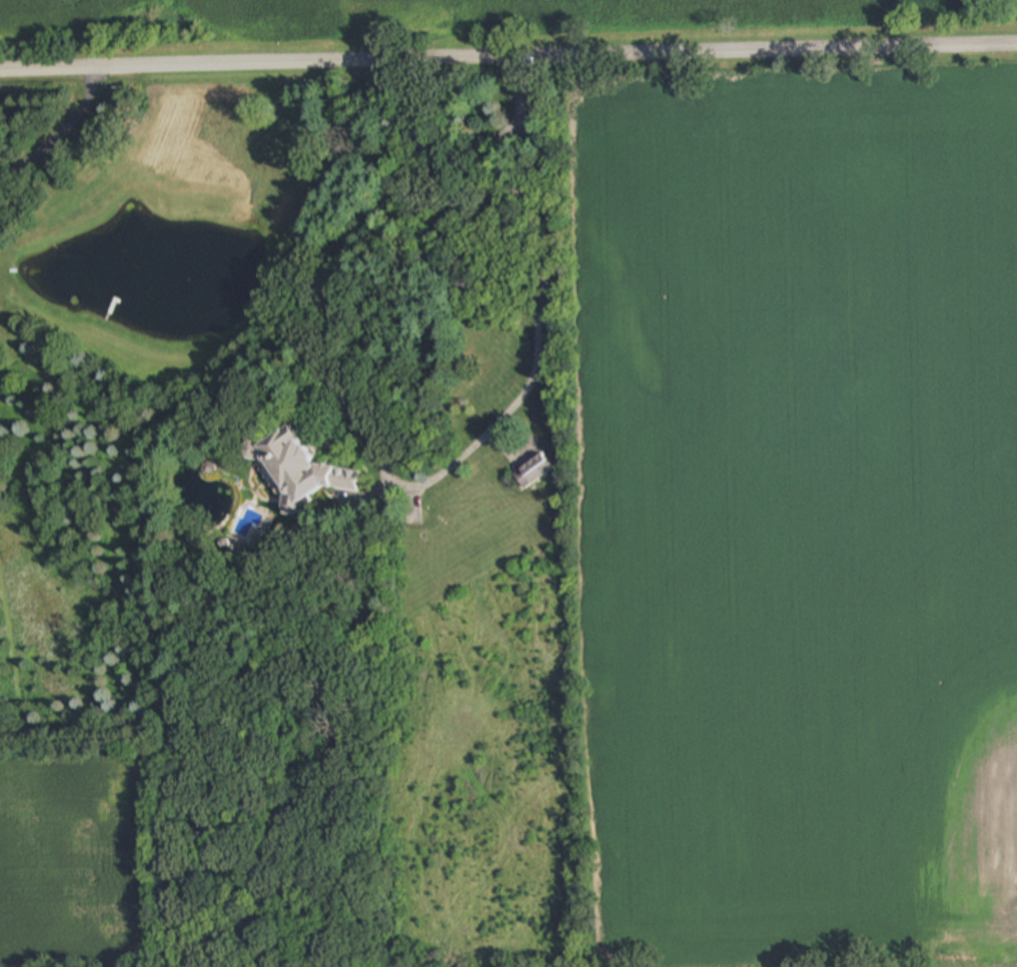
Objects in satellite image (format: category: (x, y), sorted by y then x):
road: (508, 58)
road: (62, 135)
road: (534, 301)
building: (298, 469)
building: (532, 472)

